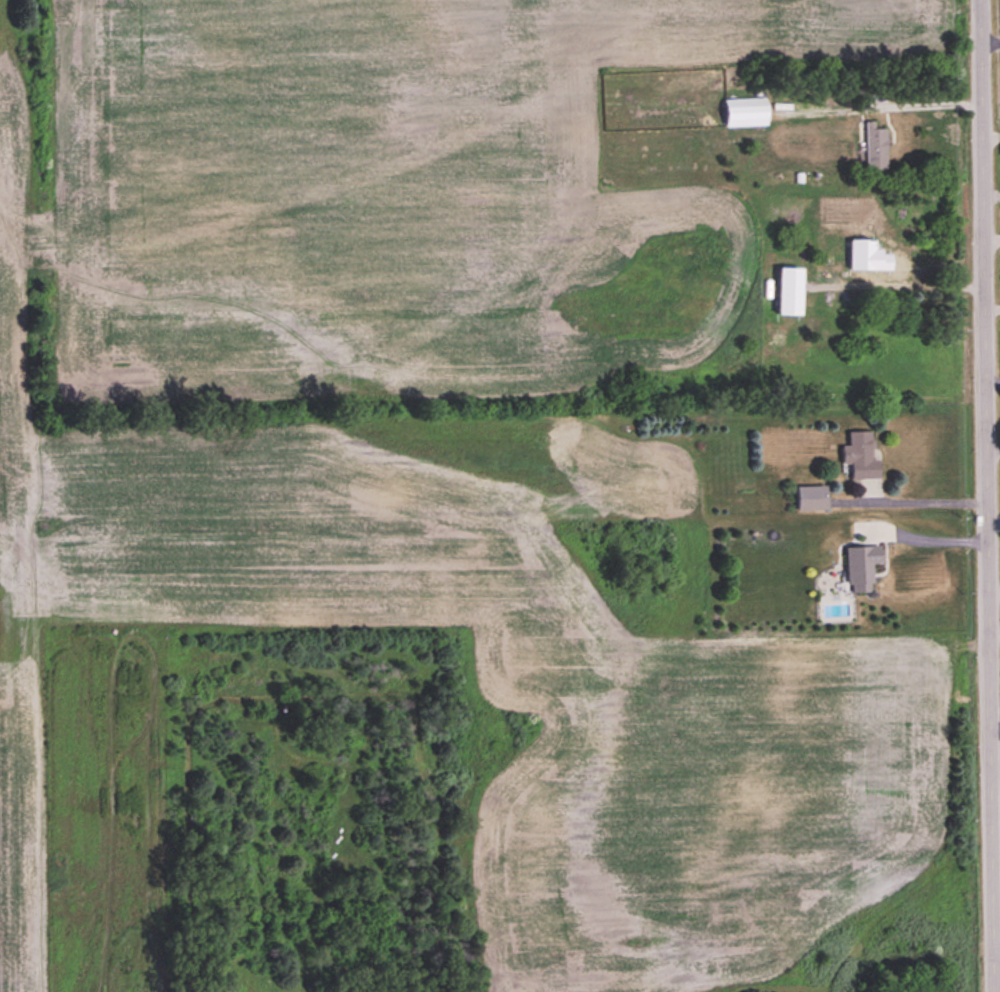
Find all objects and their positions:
building: (875, 148)
building: (908, 265)
building: (805, 287)
building: (860, 457)
road: (987, 496)
building: (811, 499)
road: (908, 502)
road: (926, 539)
building: (861, 567)

